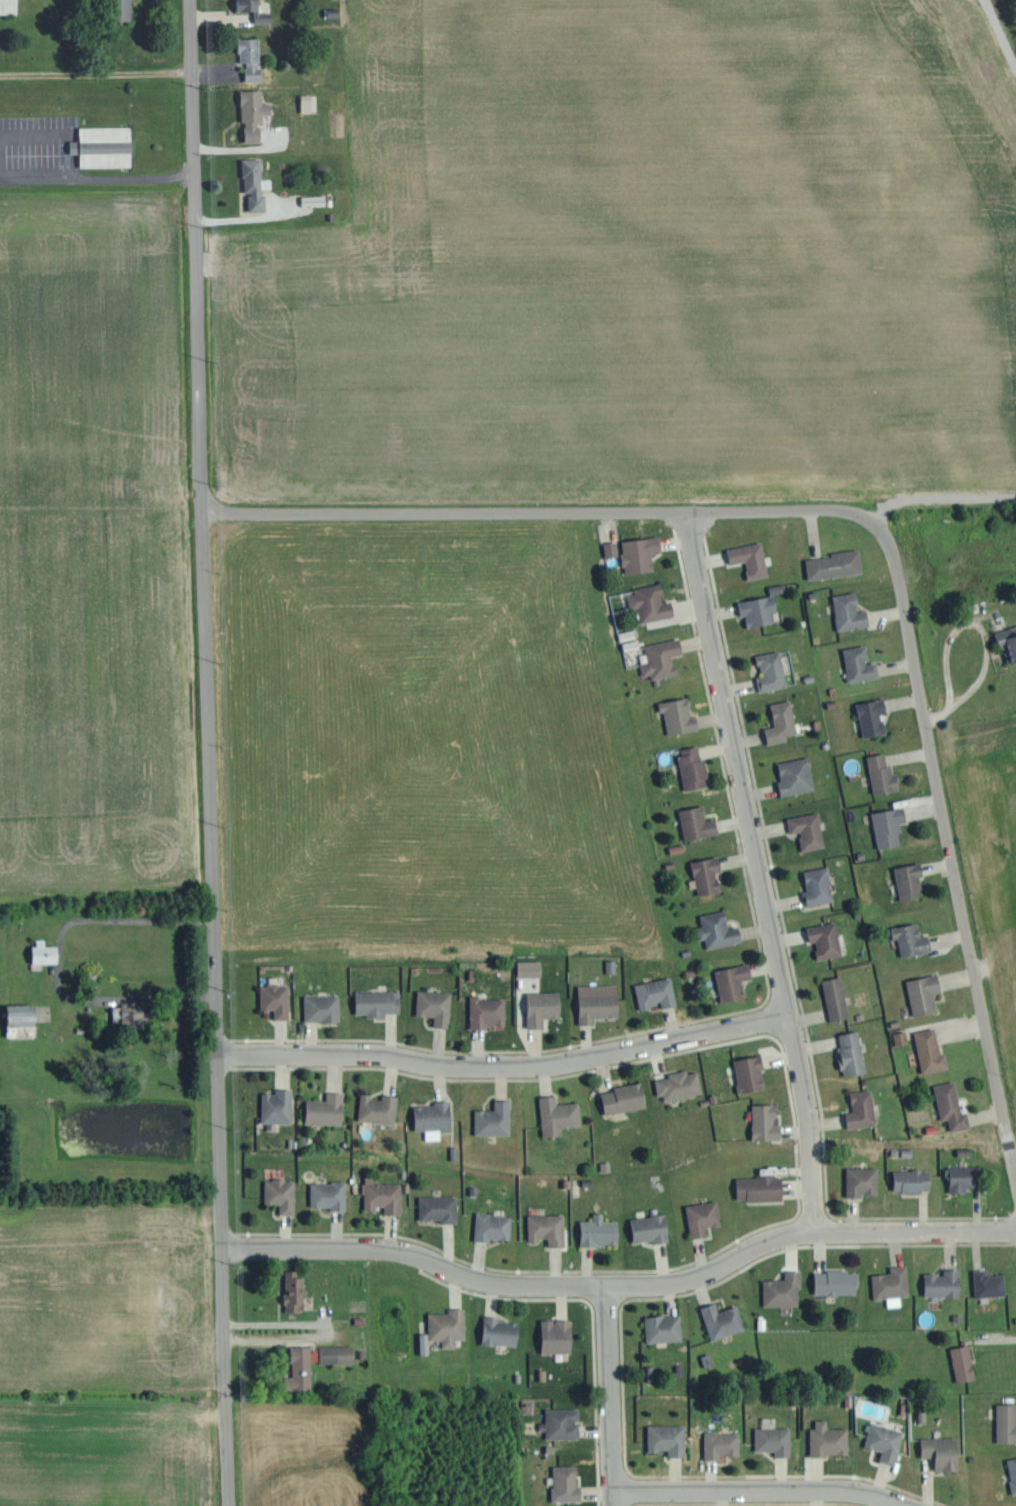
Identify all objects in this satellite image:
building: (9, 6)
building: (122, 9)
building: (256, 10)
building: (251, 57)
building: (310, 102)
building: (254, 113)
building: (104, 146)
building: (256, 182)
road: (114, 184)
road: (194, 258)
road: (443, 516)
building: (612, 548)
building: (641, 553)
building: (752, 558)
building: (835, 564)
building: (652, 603)
building: (760, 609)
building: (851, 611)
building: (1009, 640)
building: (663, 658)
building: (861, 663)
building: (773, 670)
road: (977, 682)
building: (680, 715)
building: (873, 716)
road: (936, 718)
building: (783, 722)
road: (930, 756)
building: (694, 767)
building: (884, 773)
building: (797, 775)
building: (698, 822)
building: (890, 826)
building: (809, 829)
road: (758, 871)
building: (707, 875)
building: (911, 880)
building: (820, 885)
road: (129, 923)
building: (719, 929)
building: (827, 939)
building: (912, 939)
building: (45, 951)
building: (612, 966)
building: (531, 968)
building: (734, 981)
building: (658, 993)
building: (925, 993)
building: (837, 998)
building: (277, 999)
building: (599, 1001)
building: (378, 1002)
building: (436, 1006)
building: (544, 1006)
building: (323, 1008)
road: (215, 1011)
building: (489, 1011)
building: (131, 1016)
building: (21, 1020)
road: (748, 1026)
building: (902, 1037)
building: (931, 1050)
building: (853, 1052)
road: (463, 1066)
building: (751, 1073)
building: (681, 1084)
building: (625, 1098)
building: (954, 1105)
building: (278, 1106)
building: (380, 1108)
building: (327, 1109)
building: (863, 1109)
building: (559, 1115)
building: (435, 1116)
building: (496, 1119)
building: (766, 1122)
building: (966, 1178)
building: (914, 1180)
building: (864, 1181)
building: (761, 1187)
building: (282, 1194)
building: (330, 1194)
building: (384, 1195)
building: (440, 1208)
building: (704, 1217)
building: (495, 1226)
building: (651, 1228)
building: (549, 1229)
building: (601, 1231)
road: (875, 1233)
road: (480, 1281)
building: (838, 1282)
building: (893, 1283)
building: (945, 1283)
building: (990, 1283)
building: (784, 1290)
building: (296, 1291)
building: (724, 1320)
building: (449, 1326)
building: (665, 1327)
building: (501, 1331)
building: (558, 1335)
road: (275, 1341)
building: (425, 1343)
building: (338, 1354)
building: (964, 1363)
building: (301, 1369)
building: (653, 1373)
road: (610, 1395)
building: (1007, 1422)
building: (562, 1423)
building: (775, 1437)
building: (668, 1439)
building: (830, 1439)
building: (886, 1441)
building: (723, 1444)
building: (943, 1451)
building: (1013, 1471)
building: (567, 1483)
road: (757, 1491)

